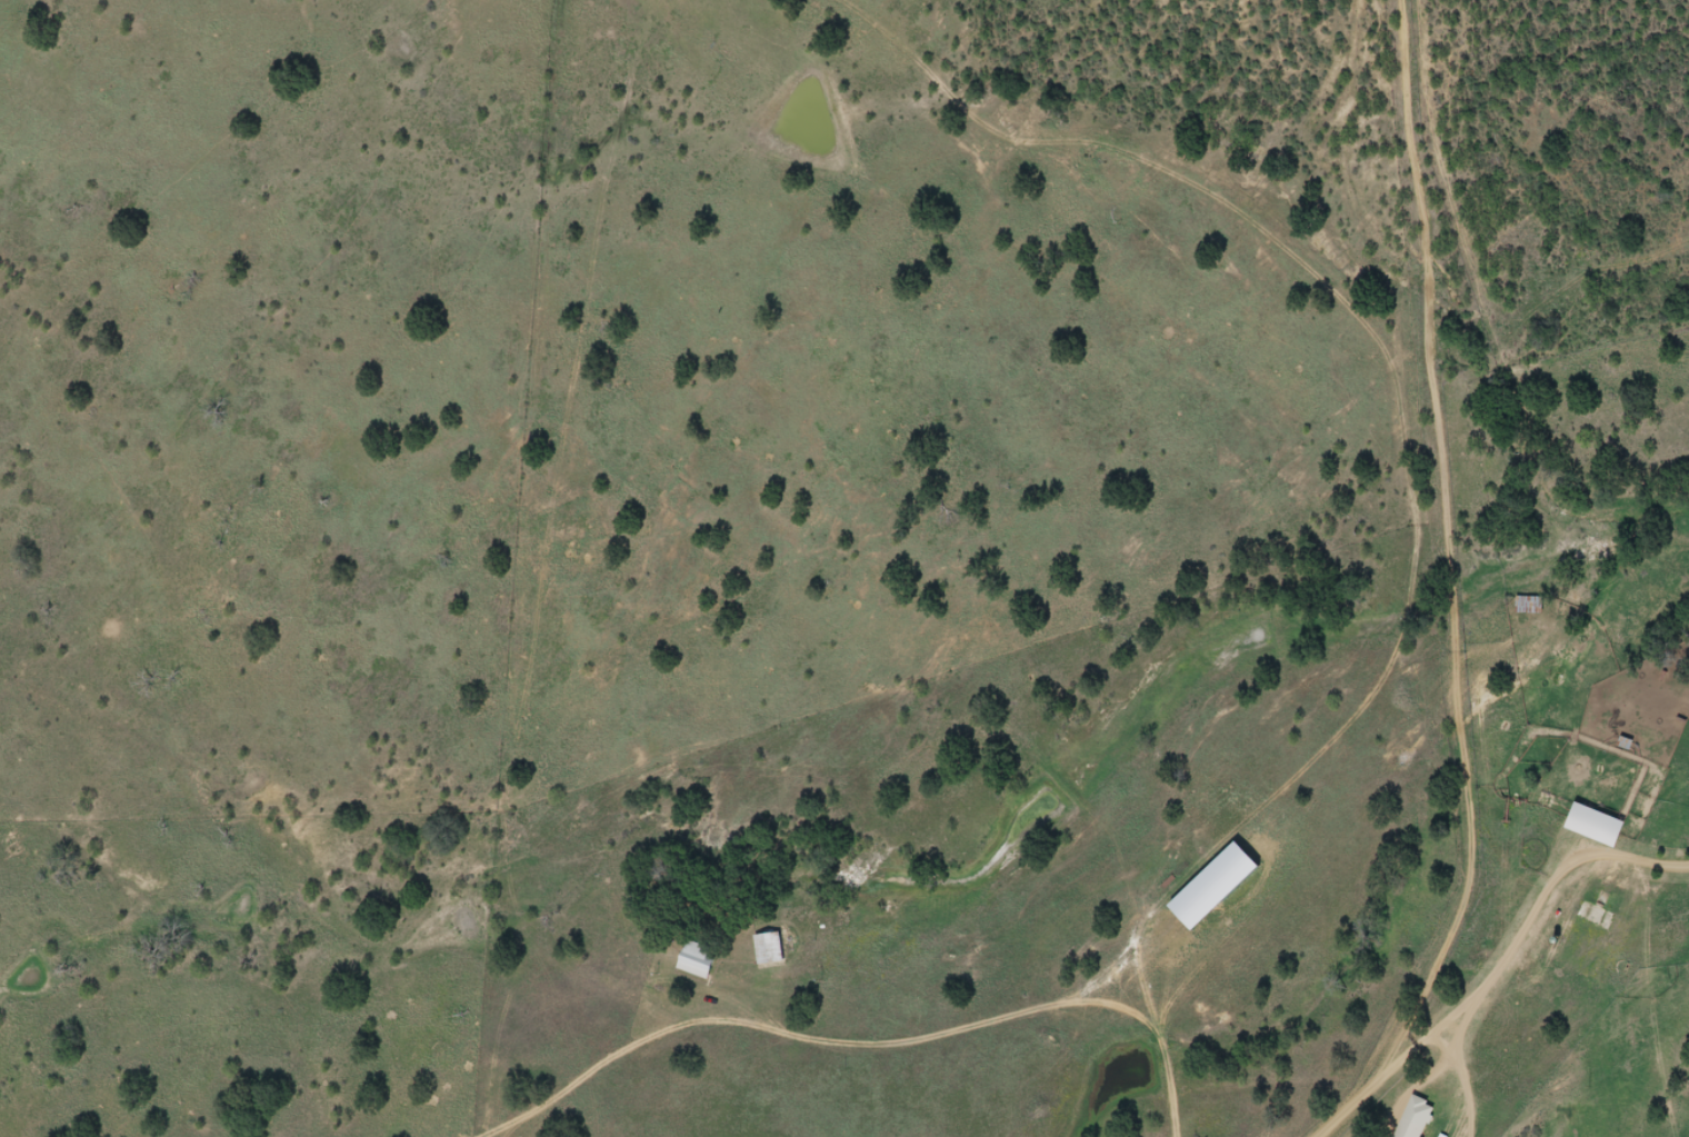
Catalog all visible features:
road: (1421, 481)
building: (1532, 607)
road: (1583, 887)
building: (771, 949)
building: (701, 960)
road: (1415, 1048)
building: (1419, 1119)

